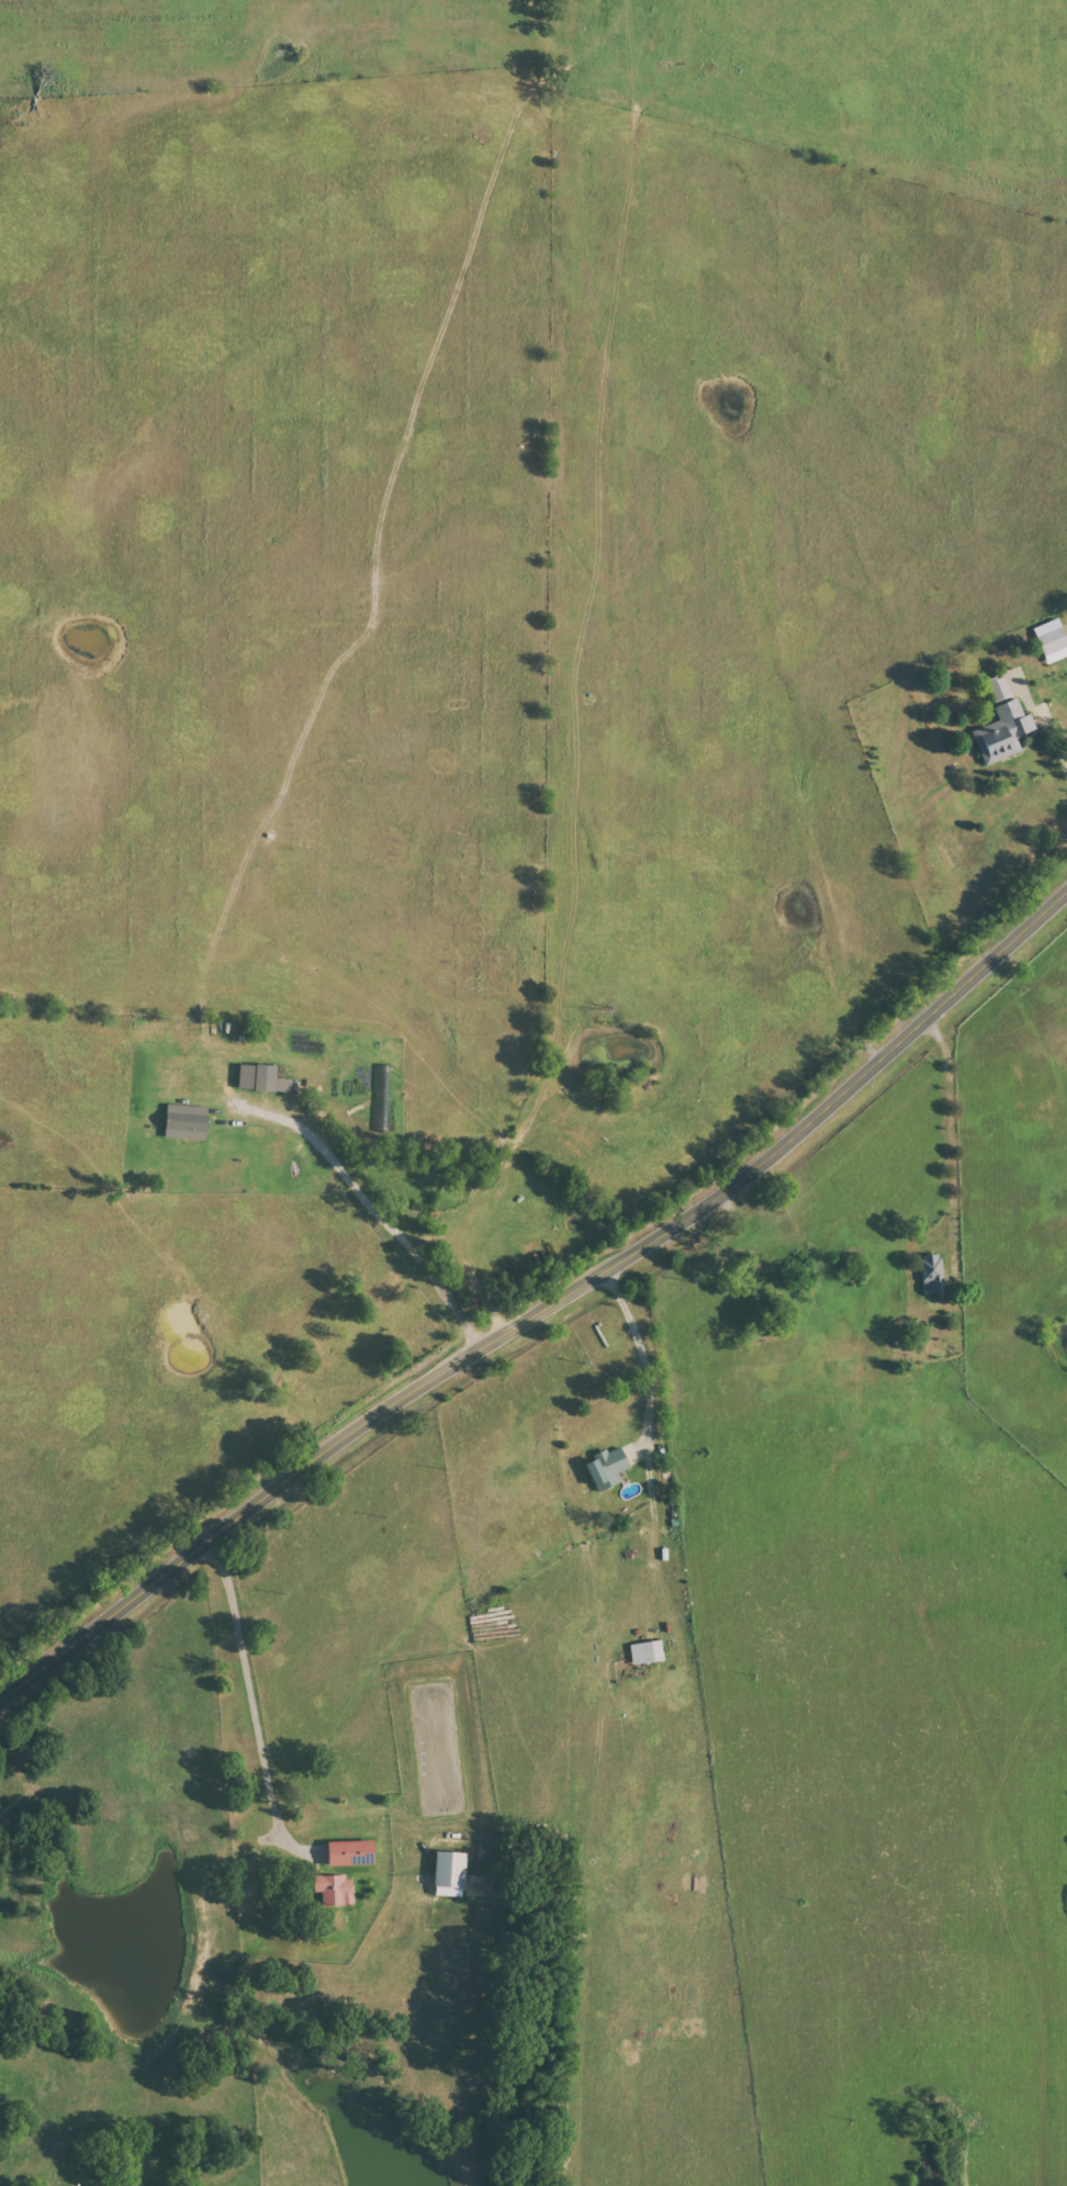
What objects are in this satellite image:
building: (1051, 640)
building: (997, 687)
building: (1002, 732)
road: (1059, 744)
building: (255, 1077)
building: (183, 1122)
road: (380, 1218)
building: (931, 1274)
road: (544, 1307)
road: (645, 1359)
building: (604, 1469)
building: (645, 1651)
road: (249, 1701)
building: (347, 1852)
building: (447, 1869)
building: (334, 1890)

